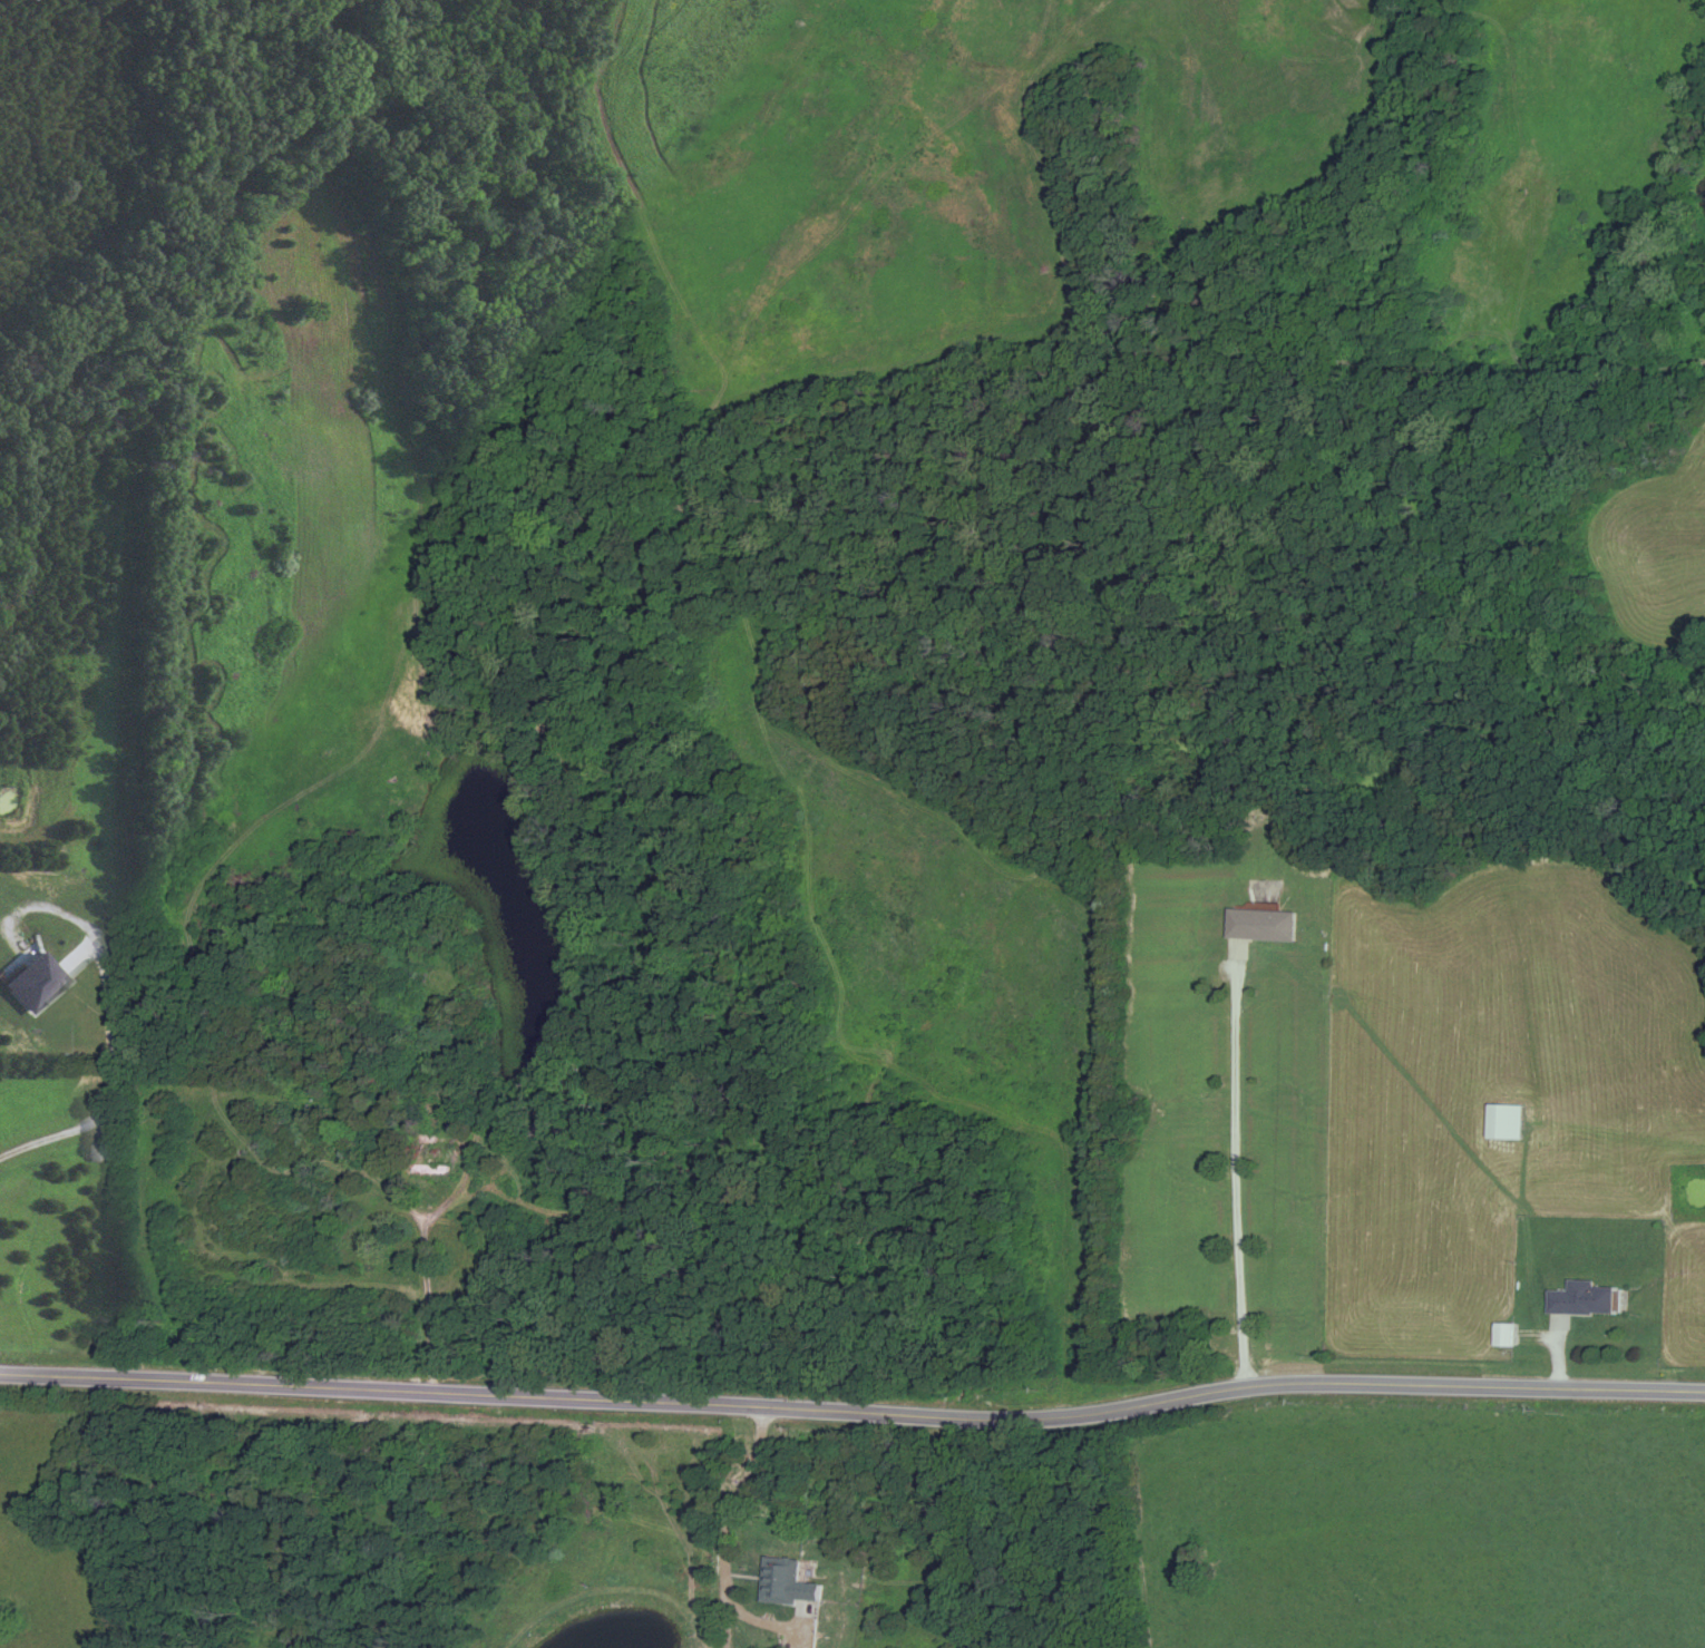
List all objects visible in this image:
building: (1261, 925)
road: (111, 1020)
building: (1504, 1121)
building: (428, 1164)
road: (1234, 1164)
road: (429, 1283)
building: (1582, 1299)
building: (1506, 1335)
road: (854, 1415)
road: (734, 1528)
building: (788, 1583)

